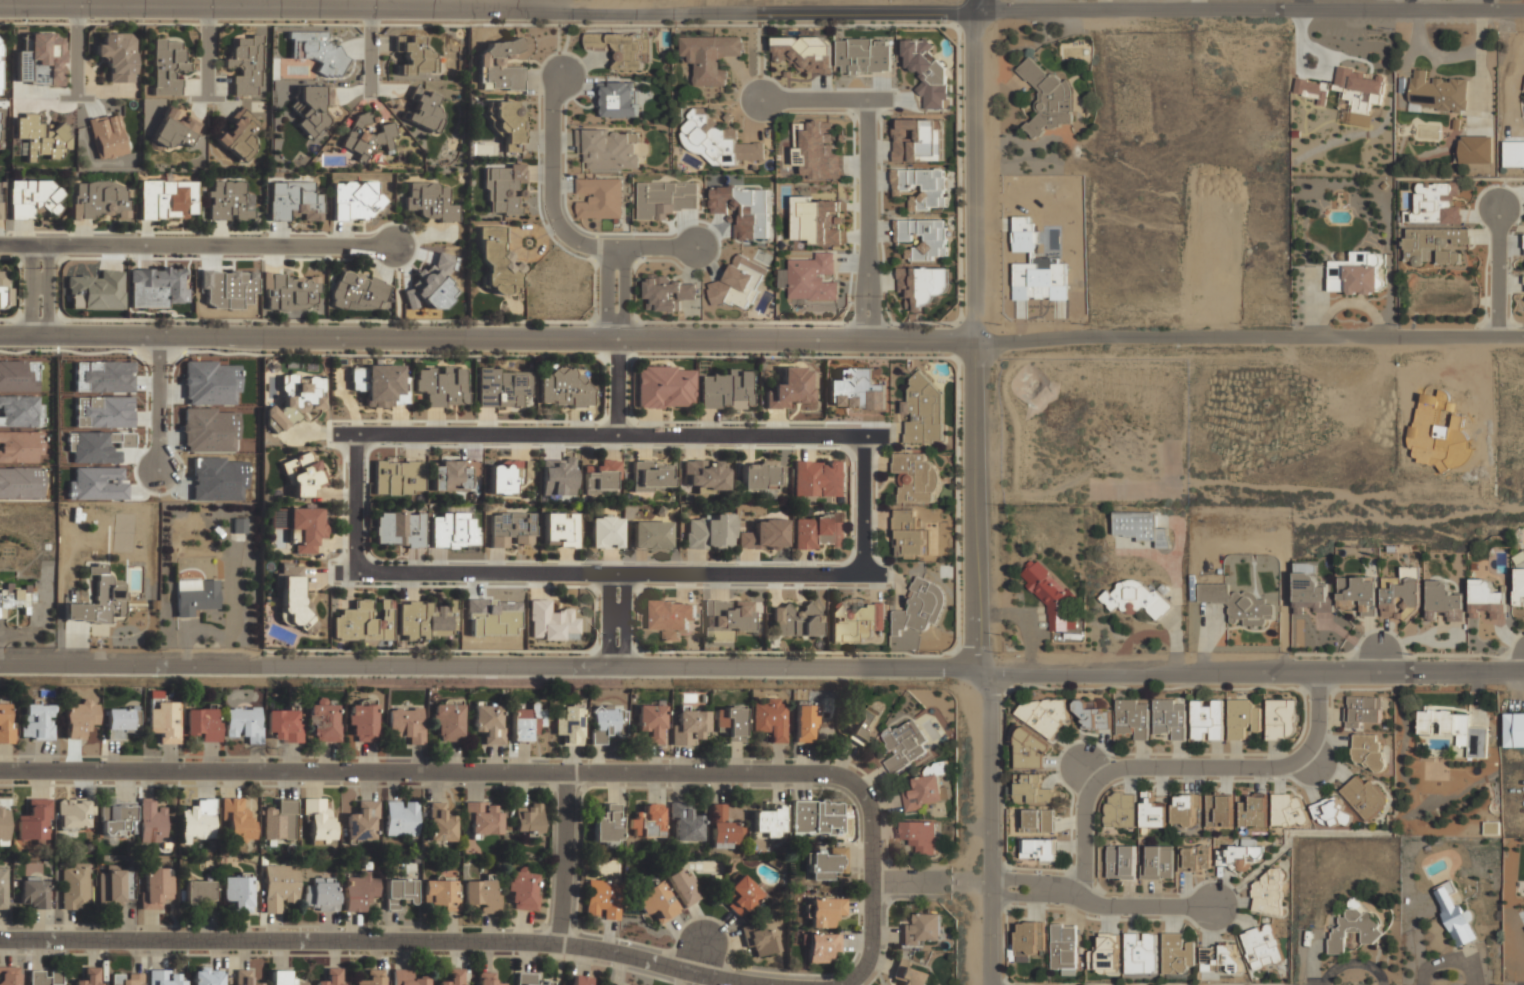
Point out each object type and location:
road: (975, 6)
road: (384, 9)
road: (1248, 11)
road: (871, 12)
building: (622, 47)
building: (802, 48)
building: (316, 51)
road: (373, 51)
road: (79, 52)
building: (0, 53)
road: (209, 53)
building: (413, 55)
building: (863, 55)
building: (116, 56)
building: (711, 56)
building: (41, 60)
building: (245, 63)
building: (166, 65)
building: (497, 66)
building: (926, 72)
building: (1310, 90)
building: (1360, 90)
building: (1436, 93)
building: (1046, 96)
building: (619, 99)
building: (311, 107)
building: (424, 110)
building: (507, 124)
building: (173, 130)
building: (239, 135)
building: (366, 136)
building: (107, 137)
building: (41, 138)
building: (717, 139)
building: (917, 140)
building: (609, 147)
building: (1475, 149)
building: (816, 150)
road: (863, 174)
building: (501, 186)
building: (920, 187)
building: (599, 197)
building: (32, 198)
building: (0, 199)
building: (666, 199)
building: (166, 200)
building: (355, 200)
building: (100, 201)
building: (293, 201)
building: (429, 201)
building: (228, 202)
building: (1436, 202)
building: (743, 210)
road: (562, 215)
building: (817, 221)
building: (1024, 234)
building: (922, 238)
building: (1435, 243)
road: (197, 246)
building: (495, 261)
building: (1357, 273)
road: (1500, 274)
building: (812, 277)
building: (1040, 280)
building: (433, 284)
building: (921, 285)
building: (5, 287)
building: (156, 287)
road: (37, 290)
building: (97, 291)
building: (290, 291)
building: (359, 291)
road: (617, 292)
building: (666, 294)
road: (308, 334)
road: (1070, 340)
road: (974, 341)
building: (19, 376)
building: (375, 383)
building: (442, 385)
road: (615, 385)
building: (502, 386)
building: (665, 387)
building: (564, 388)
building: (791, 388)
building: (727, 389)
building: (855, 390)
building: (296, 399)
road: (159, 403)
building: (21, 411)
building: (923, 411)
road: (606, 435)
building: (21, 446)
building: (451, 474)
building: (759, 474)
building: (302, 475)
building: (508, 475)
building: (705, 475)
building: (557, 476)
building: (650, 476)
building: (398, 477)
building: (603, 477)
building: (915, 478)
building: (819, 479)
building: (21, 482)
road: (356, 501)
road: (862, 505)
building: (239, 526)
building: (300, 526)
building: (1136, 526)
building: (398, 529)
building: (510, 529)
building: (559, 529)
building: (452, 530)
building: (605, 531)
building: (709, 531)
building: (819, 534)
building: (650, 536)
building: (764, 536)
building: (909, 536)
road: (604, 570)
building: (1519, 587)
building: (1309, 589)
building: (1047, 591)
building: (1358, 593)
building: (194, 595)
building: (16, 596)
building: (1401, 596)
building: (293, 598)
building: (1135, 598)
building: (98, 599)
building: (1486, 599)
building: (1444, 601)
building: (1237, 603)
building: (920, 607)
building: (672, 616)
building: (728, 618)
building: (424, 620)
road: (613, 620)
building: (795, 620)
building: (363, 621)
building: (855, 621)
building: (551, 622)
road: (496, 667)
road: (1257, 672)
building: (1363, 710)
building: (1042, 713)
building: (1092, 716)
building: (1131, 717)
building: (163, 718)
building: (1169, 718)
building: (1241, 718)
building: (1280, 718)
building: (79, 719)
building: (1207, 719)
building: (770, 720)
building: (606, 721)
building: (36, 722)
building: (202, 722)
building: (649, 722)
building: (5, 723)
building: (119, 723)
building: (446, 723)
building: (488, 723)
building: (525, 723)
building: (568, 723)
building: (861, 723)
building: (243, 724)
building: (363, 724)
building: (729, 724)
building: (323, 725)
building: (406, 725)
building: (804, 725)
building: (688, 726)
building: (282, 727)
building: (1456, 729)
building: (1514, 730)
building: (904, 745)
building: (1030, 749)
building: (1366, 750)
road: (1183, 768)
road: (538, 769)
road: (990, 780)
building: (1033, 789)
building: (924, 792)
building: (1364, 796)
building: (1184, 809)
building: (1219, 809)
building: (1288, 809)
building: (1119, 810)
building: (1253, 810)
building: (1152, 811)
building: (1329, 812)
building: (75, 815)
building: (815, 817)
building: (482, 818)
building: (115, 819)
building: (198, 819)
building: (237, 819)
building: (400, 819)
building: (280, 820)
building: (318, 820)
building: (527, 820)
building: (1037, 820)
building: (151, 821)
building: (363, 821)
building: (646, 821)
building: (767, 821)
building: (32, 823)
building: (684, 823)
building: (4, 824)
building: (439, 824)
building: (606, 825)
building: (722, 828)
building: (920, 837)
building: (1038, 850)
road: (567, 854)
building: (1238, 855)
building: (1193, 859)
building: (823, 862)
building: (1121, 862)
building: (1157, 862)
road: (932, 881)
building: (74, 886)
building: (155, 886)
building: (113, 887)
building: (279, 887)
building: (682, 888)
building: (3, 889)
building: (358, 891)
building: (523, 891)
building: (1267, 891)
building: (398, 892)
building: (198, 893)
building: (237, 893)
building: (33, 895)
building: (439, 895)
building: (320, 896)
building: (481, 896)
building: (741, 896)
building: (602, 898)
road: (1101, 903)
building: (657, 904)
building: (822, 912)
building: (1454, 914)
building: (1355, 927)
building: (922, 929)
road: (990, 934)
road: (281, 938)
building: (1029, 939)
building: (758, 940)
building: (821, 946)
building: (1063, 946)
building: (1260, 946)
building: (1140, 952)
building: (1176, 953)
building: (1105, 954)
road: (701, 956)
building: (1218, 958)
road: (663, 964)
building: (911, 973)
building: (9, 975)
building: (88, 976)
building: (206, 976)
building: (45, 977)
building: (163, 977)
building: (244, 977)
building: (330, 977)
building: (283, 978)
building: (406, 978)
building: (453, 978)
building: (125, 979)
building: (371, 979)
building: (485, 979)
building: (528, 979)
building: (581, 980)
building: (613, 984)

